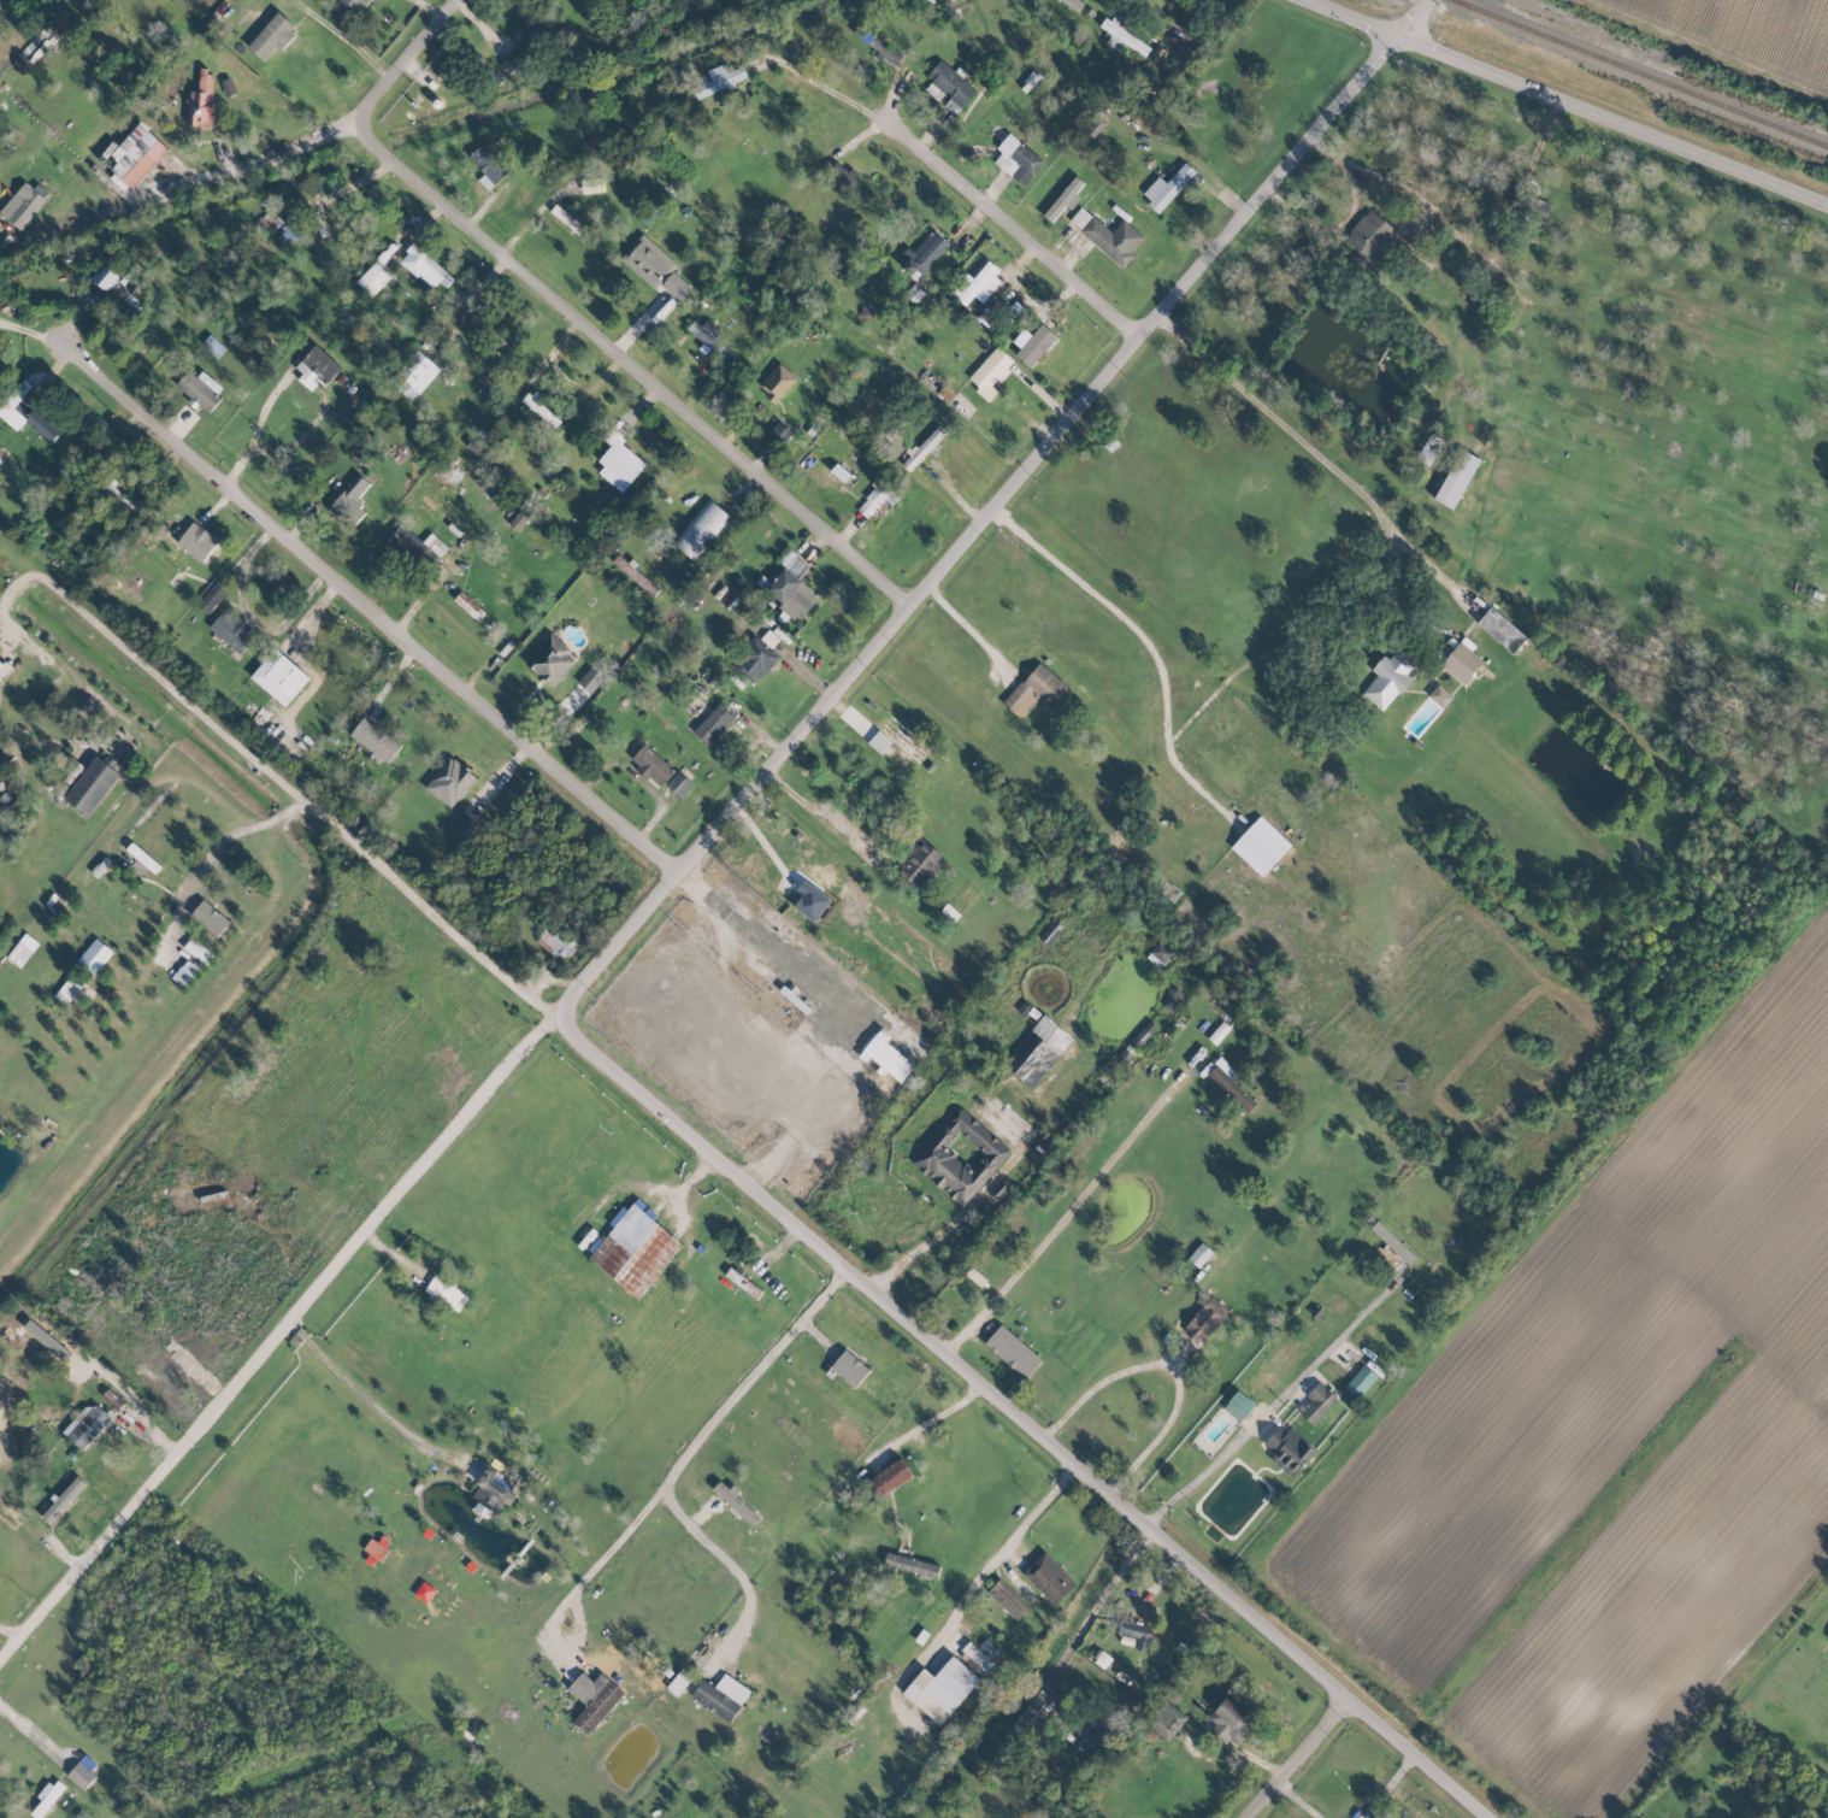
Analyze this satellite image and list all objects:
building: (348, 7)
road: (1355, 17)
building: (1121, 35)
building: (272, 36)
road: (350, 43)
building: (878, 46)
building: (518, 55)
railway: (1641, 72)
building: (718, 80)
road: (821, 84)
building: (228, 87)
building: (948, 87)
building: (201, 100)
road: (1611, 120)
building: (136, 154)
building: (1016, 159)
road: (263, 165)
building: (488, 165)
road: (1369, 172)
building: (849, 182)
building: (591, 184)
building: (1166, 187)
building: (1065, 199)
building: (22, 204)
building: (566, 218)
building: (267, 220)
road: (1014, 224)
road: (1332, 228)
building: (290, 233)
building: (1369, 235)
building: (1108, 236)
building: (922, 253)
building: (648, 261)
building: (429, 266)
building: (104, 277)
building: (372, 280)
building: (978, 284)
building: (136, 286)
building: (676, 286)
road: (571, 308)
building: (1015, 311)
building: (710, 341)
building: (1032, 343)
building: (213, 346)
building: (316, 367)
building: (989, 372)
building: (414, 375)
building: (777, 382)
building: (199, 388)
building: (541, 410)
building: (30, 414)
road: (256, 425)
building: (778, 434)
road: (296, 443)
building: (922, 447)
building: (1429, 449)
road: (1317, 460)
building: (619, 466)
building: (448, 469)
building: (1456, 478)
building: (877, 499)
building: (349, 502)
building: (700, 529)
building: (194, 543)
building: (412, 548)
building: (790, 587)
building: (212, 595)
road: (378, 605)
building: (467, 605)
building: (1500, 630)
building: (231, 631)
road: (967, 634)
road: (1148, 645)
building: (549, 660)
building: (754, 660)
building: (1461, 663)
building: (2, 669)
building: (279, 676)
building: (1388, 678)
building: (590, 679)
building: (1033, 690)
building: (1439, 695)
building: (712, 724)
road: (217, 725)
building: (1, 740)
building: (375, 740)
building: (878, 741)
building: (650, 764)
building: (450, 782)
building: (93, 784)
building: (678, 784)
building: (7, 805)
road: (243, 829)
road: (713, 840)
building: (1260, 846)
building: (142, 857)
road: (853, 857)
building: (916, 865)
building: (812, 887)
building: (208, 918)
building: (1050, 931)
building: (556, 942)
road: (768, 951)
building: (1160, 954)
building: (94, 955)
building: (65, 990)
building: (1037, 1051)
building: (888, 1057)
building: (1230, 1083)
building: (960, 1157)
road: (962, 1210)
road: (1055, 1224)
building: (1392, 1242)
building: (633, 1248)
building: (1199, 1254)
building: (742, 1282)
building: (446, 1293)
building: (1204, 1320)
road: (300, 1332)
road: (303, 1339)
building: (1012, 1352)
building: (849, 1367)
road: (1168, 1367)
building: (1360, 1381)
building: (1240, 1402)
building: (1317, 1404)
road: (1269, 1406)
road: (377, 1410)
road: (1020, 1419)
road: (934, 1424)
building: (85, 1425)
building: (1287, 1449)
road: (682, 1463)
building: (889, 1478)
building: (491, 1489)
building: (63, 1499)
building: (735, 1502)
road: (1008, 1542)
building: (393, 1557)
building: (910, 1565)
road: (729, 1571)
building: (1049, 1578)
building: (1007, 1599)
road: (1097, 1599)
building: (1136, 1632)
building: (1827, 1637)
road: (13, 1640)
building: (975, 1658)
building: (1099, 1658)
building: (678, 1682)
building: (940, 1689)
building: (721, 1696)
building: (594, 1699)
building: (1031, 1712)
building: (1163, 1719)
building: (1228, 1720)
road: (35, 1735)
road: (1308, 1763)
building: (82, 1773)
building: (47, 1796)

